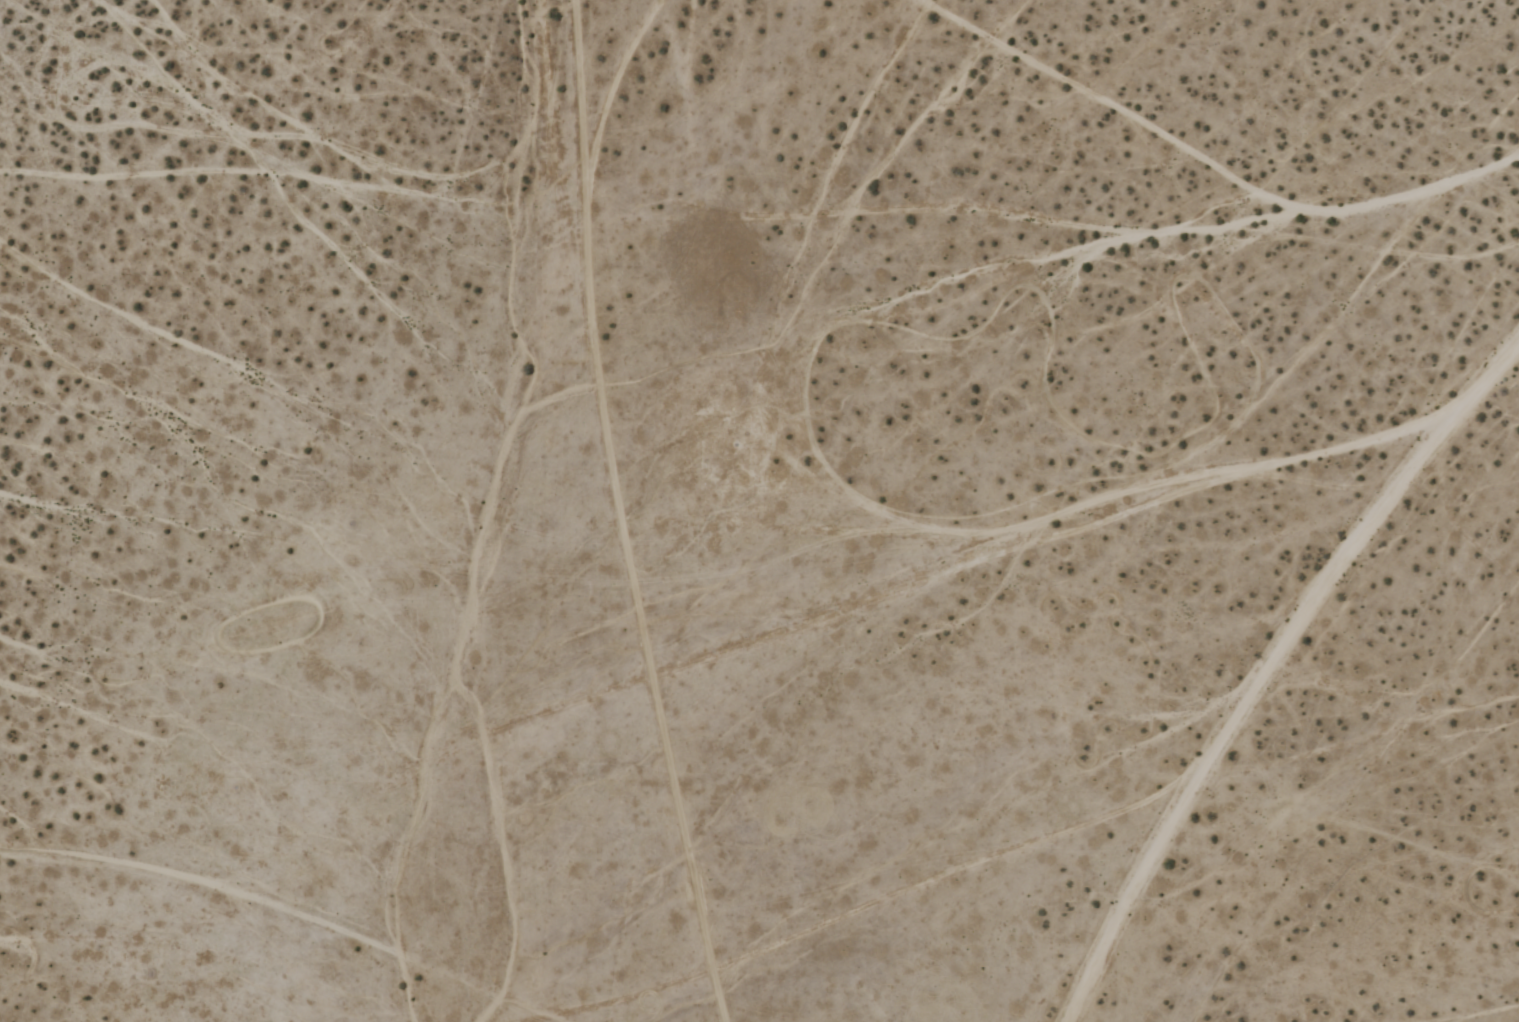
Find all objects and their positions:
crop: (759, 511)
road: (1271, 669)
road: (287, 915)

